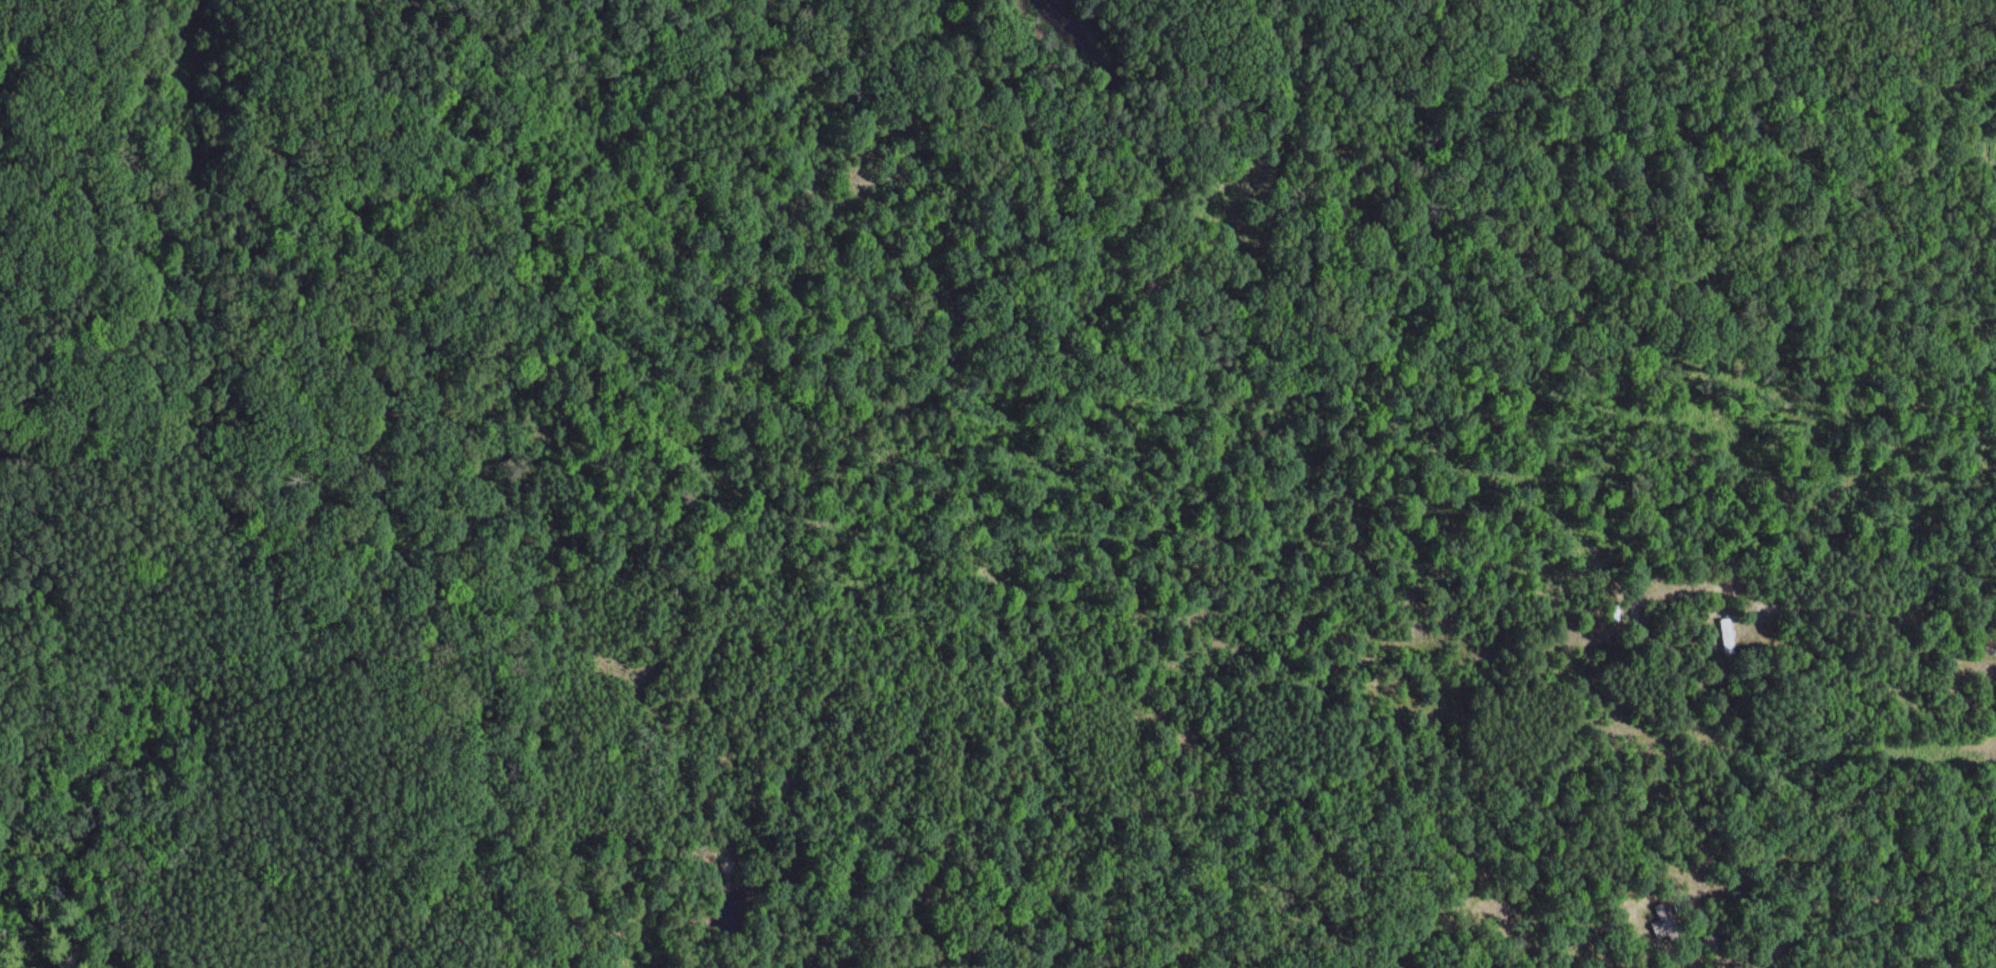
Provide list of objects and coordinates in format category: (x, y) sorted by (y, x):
building: (1726, 637)
building: (1661, 921)

